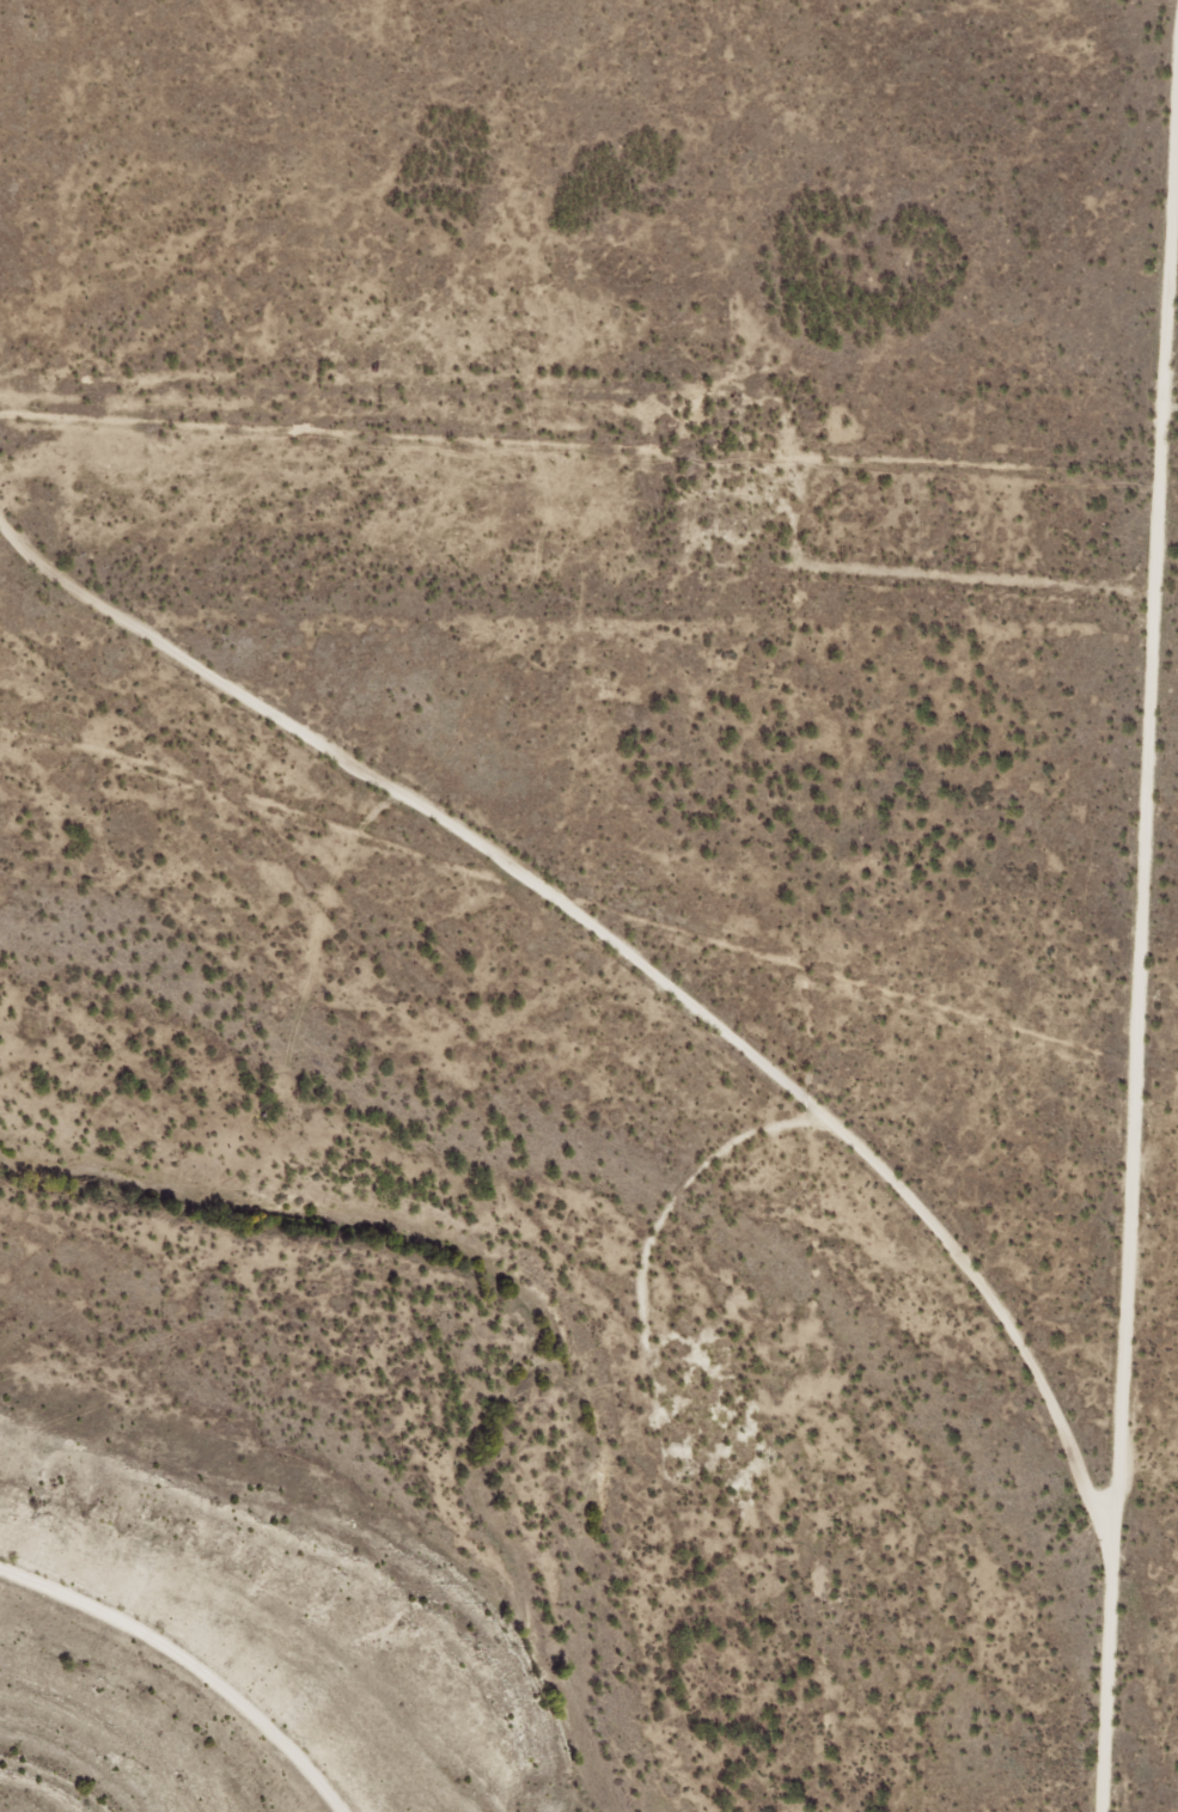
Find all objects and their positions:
road: (612, 895)
road: (1172, 1397)
road: (1167, 1612)
road: (172, 1679)

